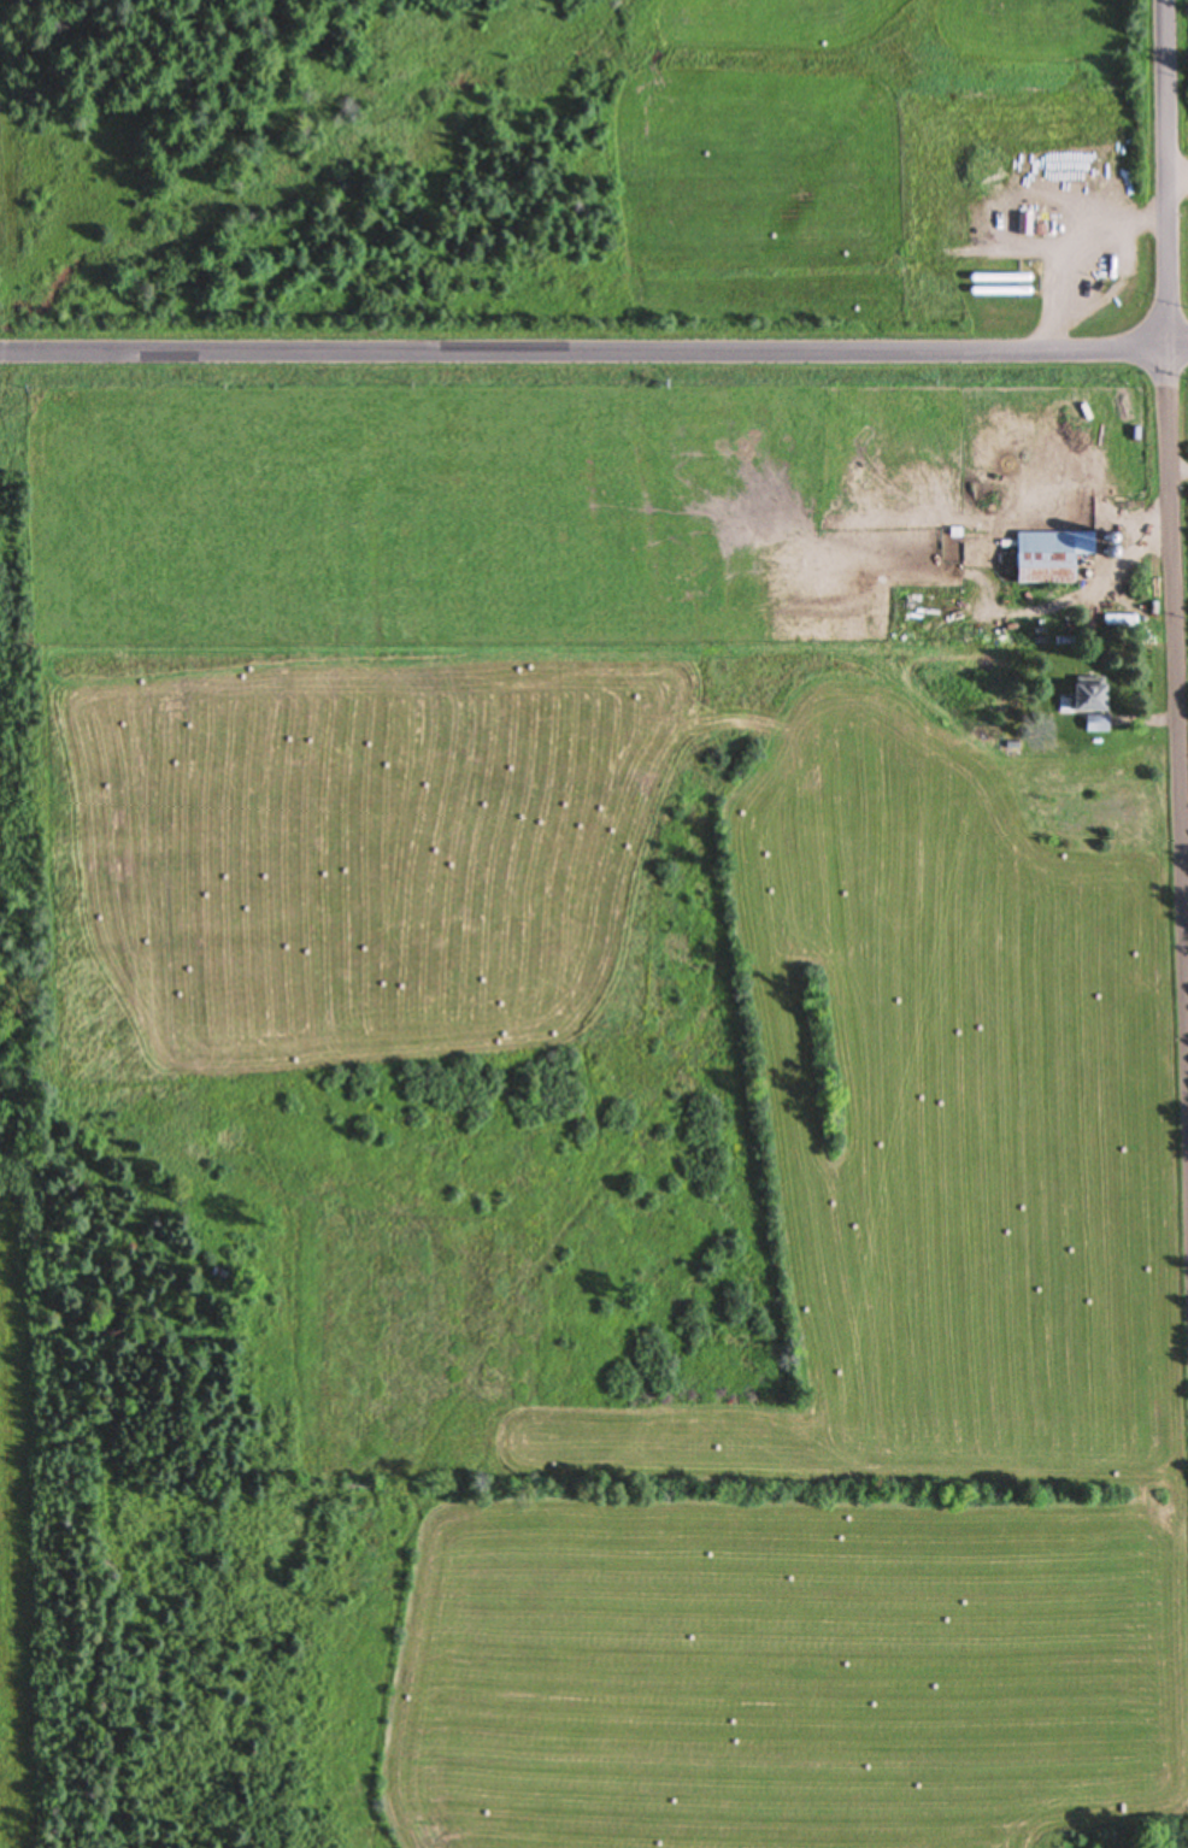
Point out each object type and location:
road: (594, 351)
road: (1171, 534)
building: (1045, 567)
building: (1088, 696)
park: (19, 1238)

